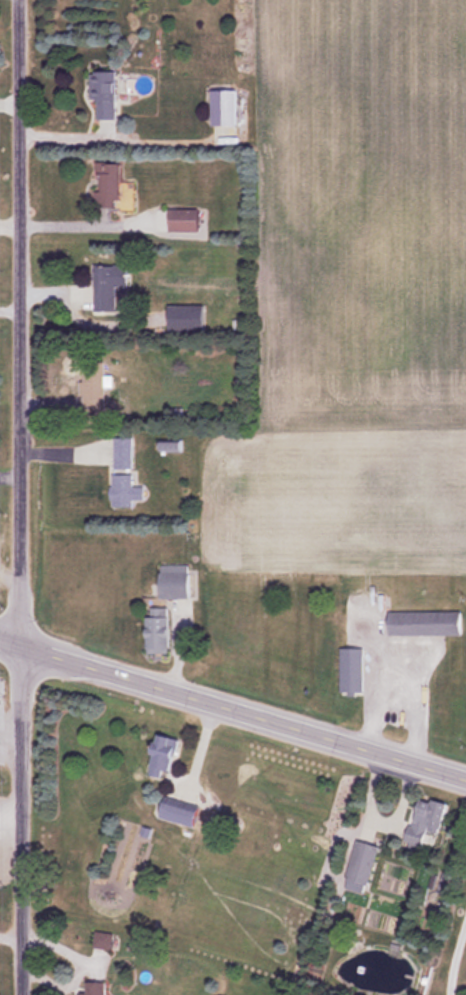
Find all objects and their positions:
building: (105, 94)
building: (227, 106)
building: (113, 185)
building: (188, 219)
building: (110, 286)
building: (190, 317)
building: (127, 474)
road: (21, 497)
building: (178, 584)
building: (427, 622)
building: (168, 629)
building: (352, 669)
road: (410, 682)
road: (233, 712)
building: (166, 754)
building: (183, 812)
building: (427, 819)
building: (365, 861)
building: (104, 940)
road: (455, 959)
building: (97, 988)

